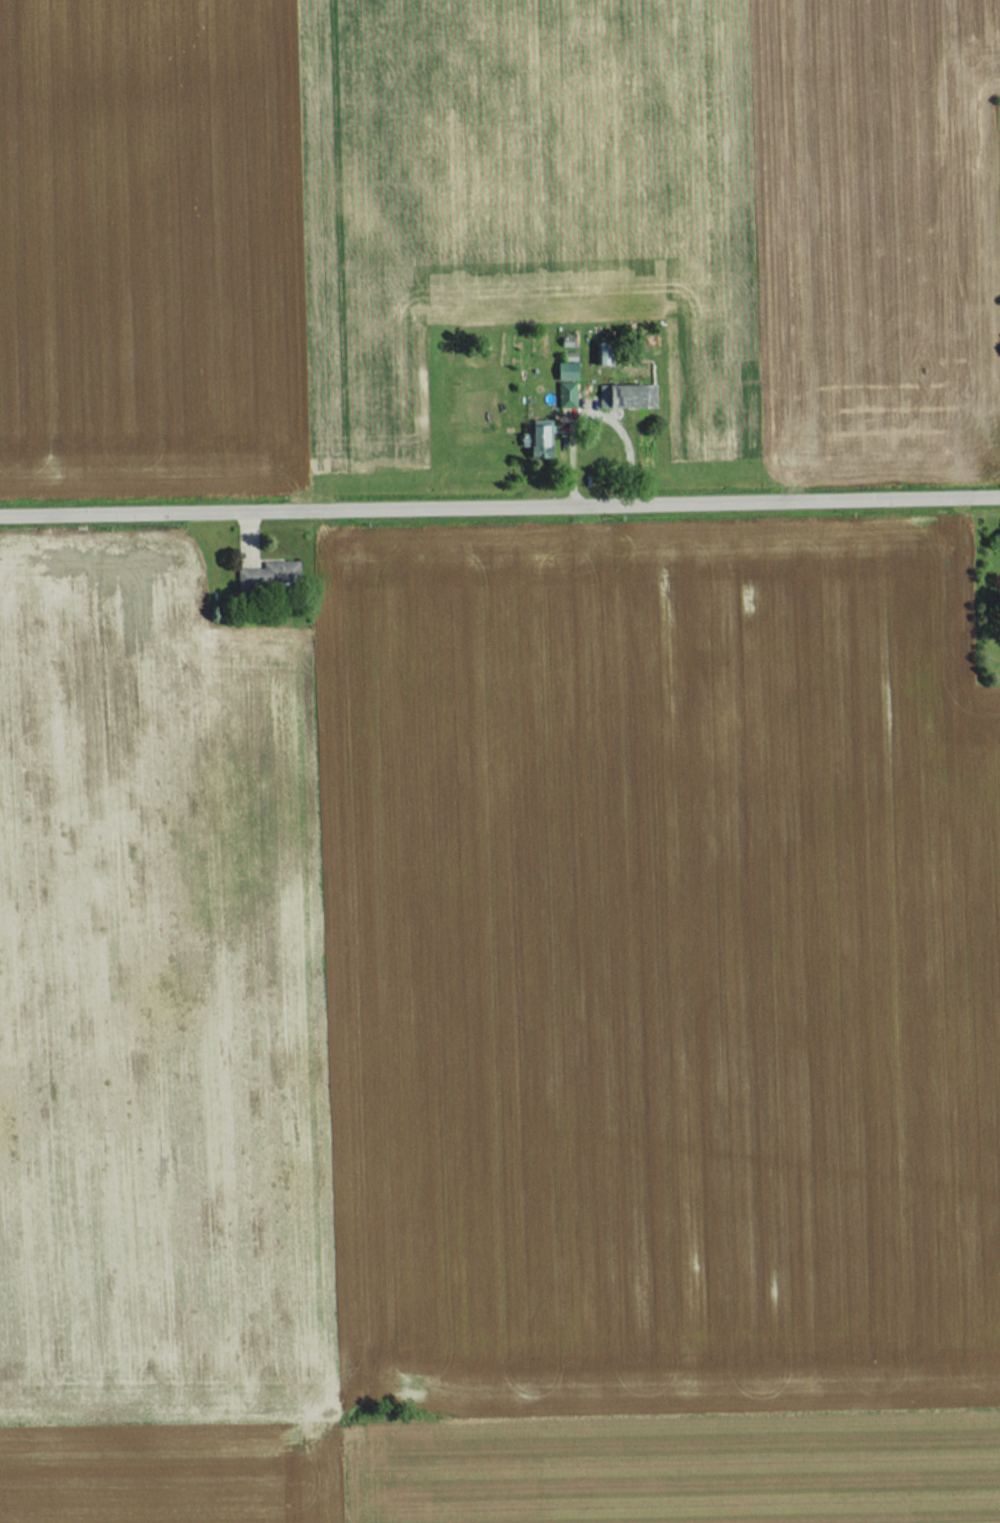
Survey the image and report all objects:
crop: (349, 223)
crop: (873, 229)
building: (601, 354)
building: (602, 394)
road: (500, 502)
crop: (488, 995)
crop: (675, 1467)

